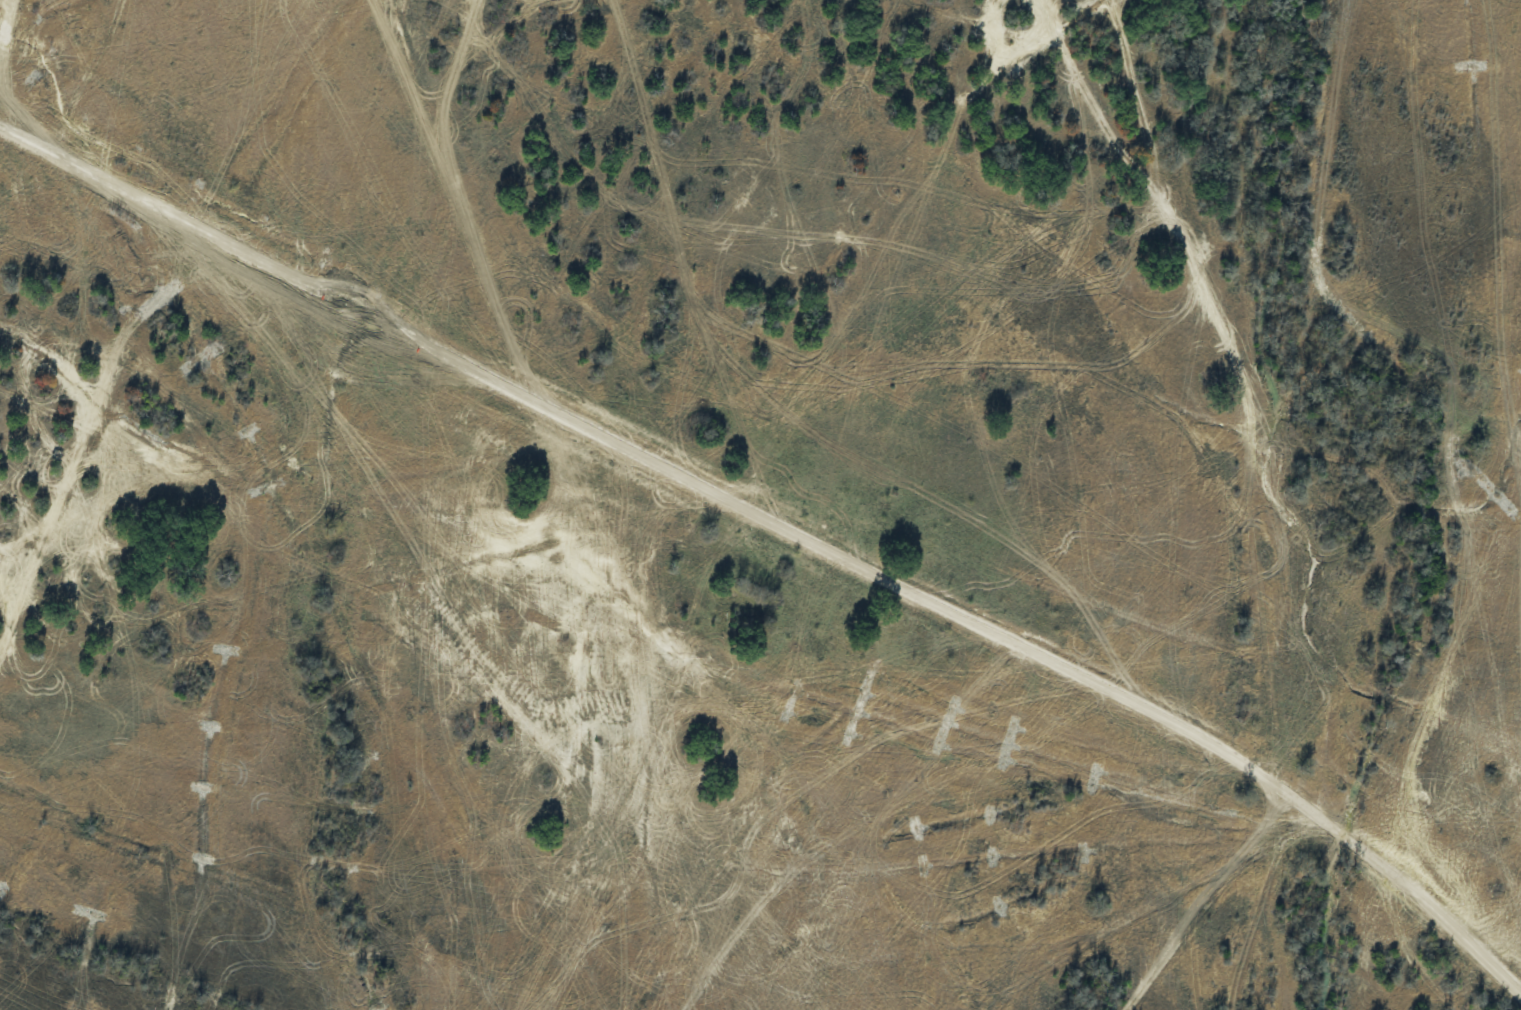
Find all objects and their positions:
road: (784, 520)

